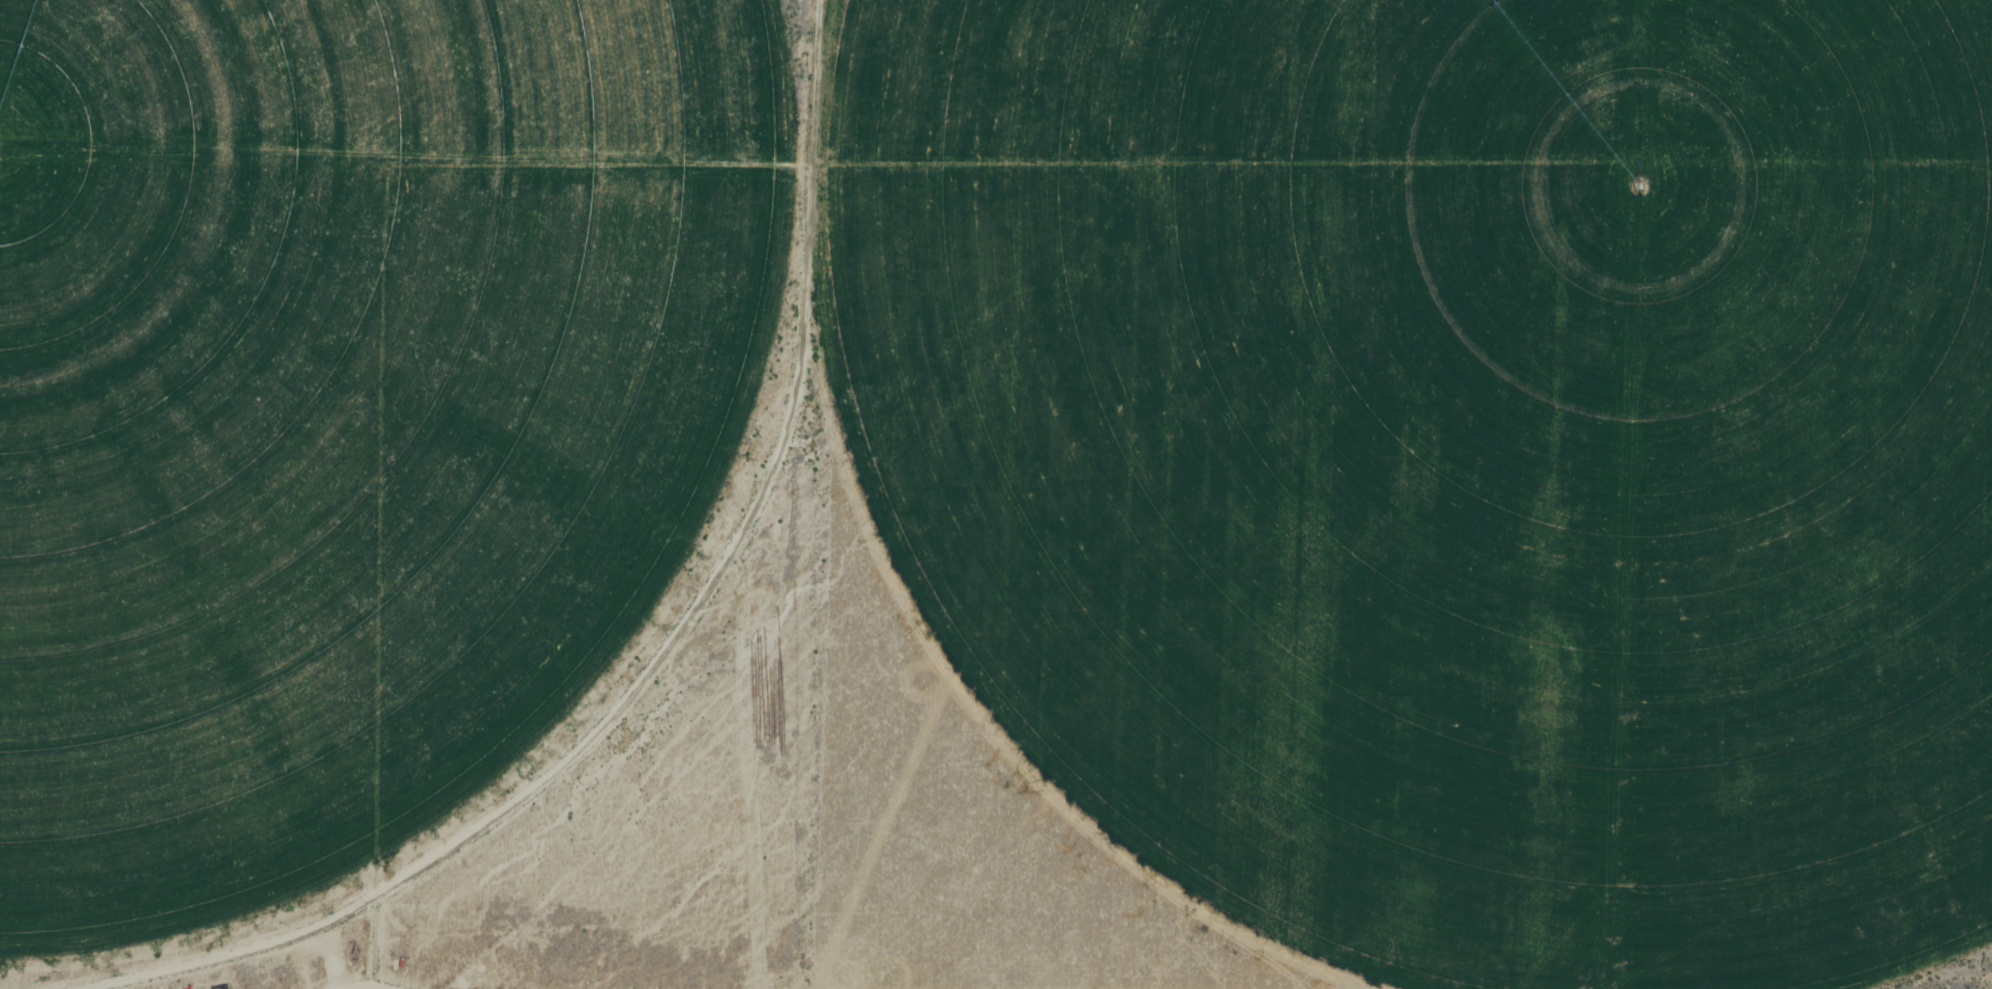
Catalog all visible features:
crop: (345, 408)
crop: (1447, 458)
road: (683, 634)
road: (1937, 967)

